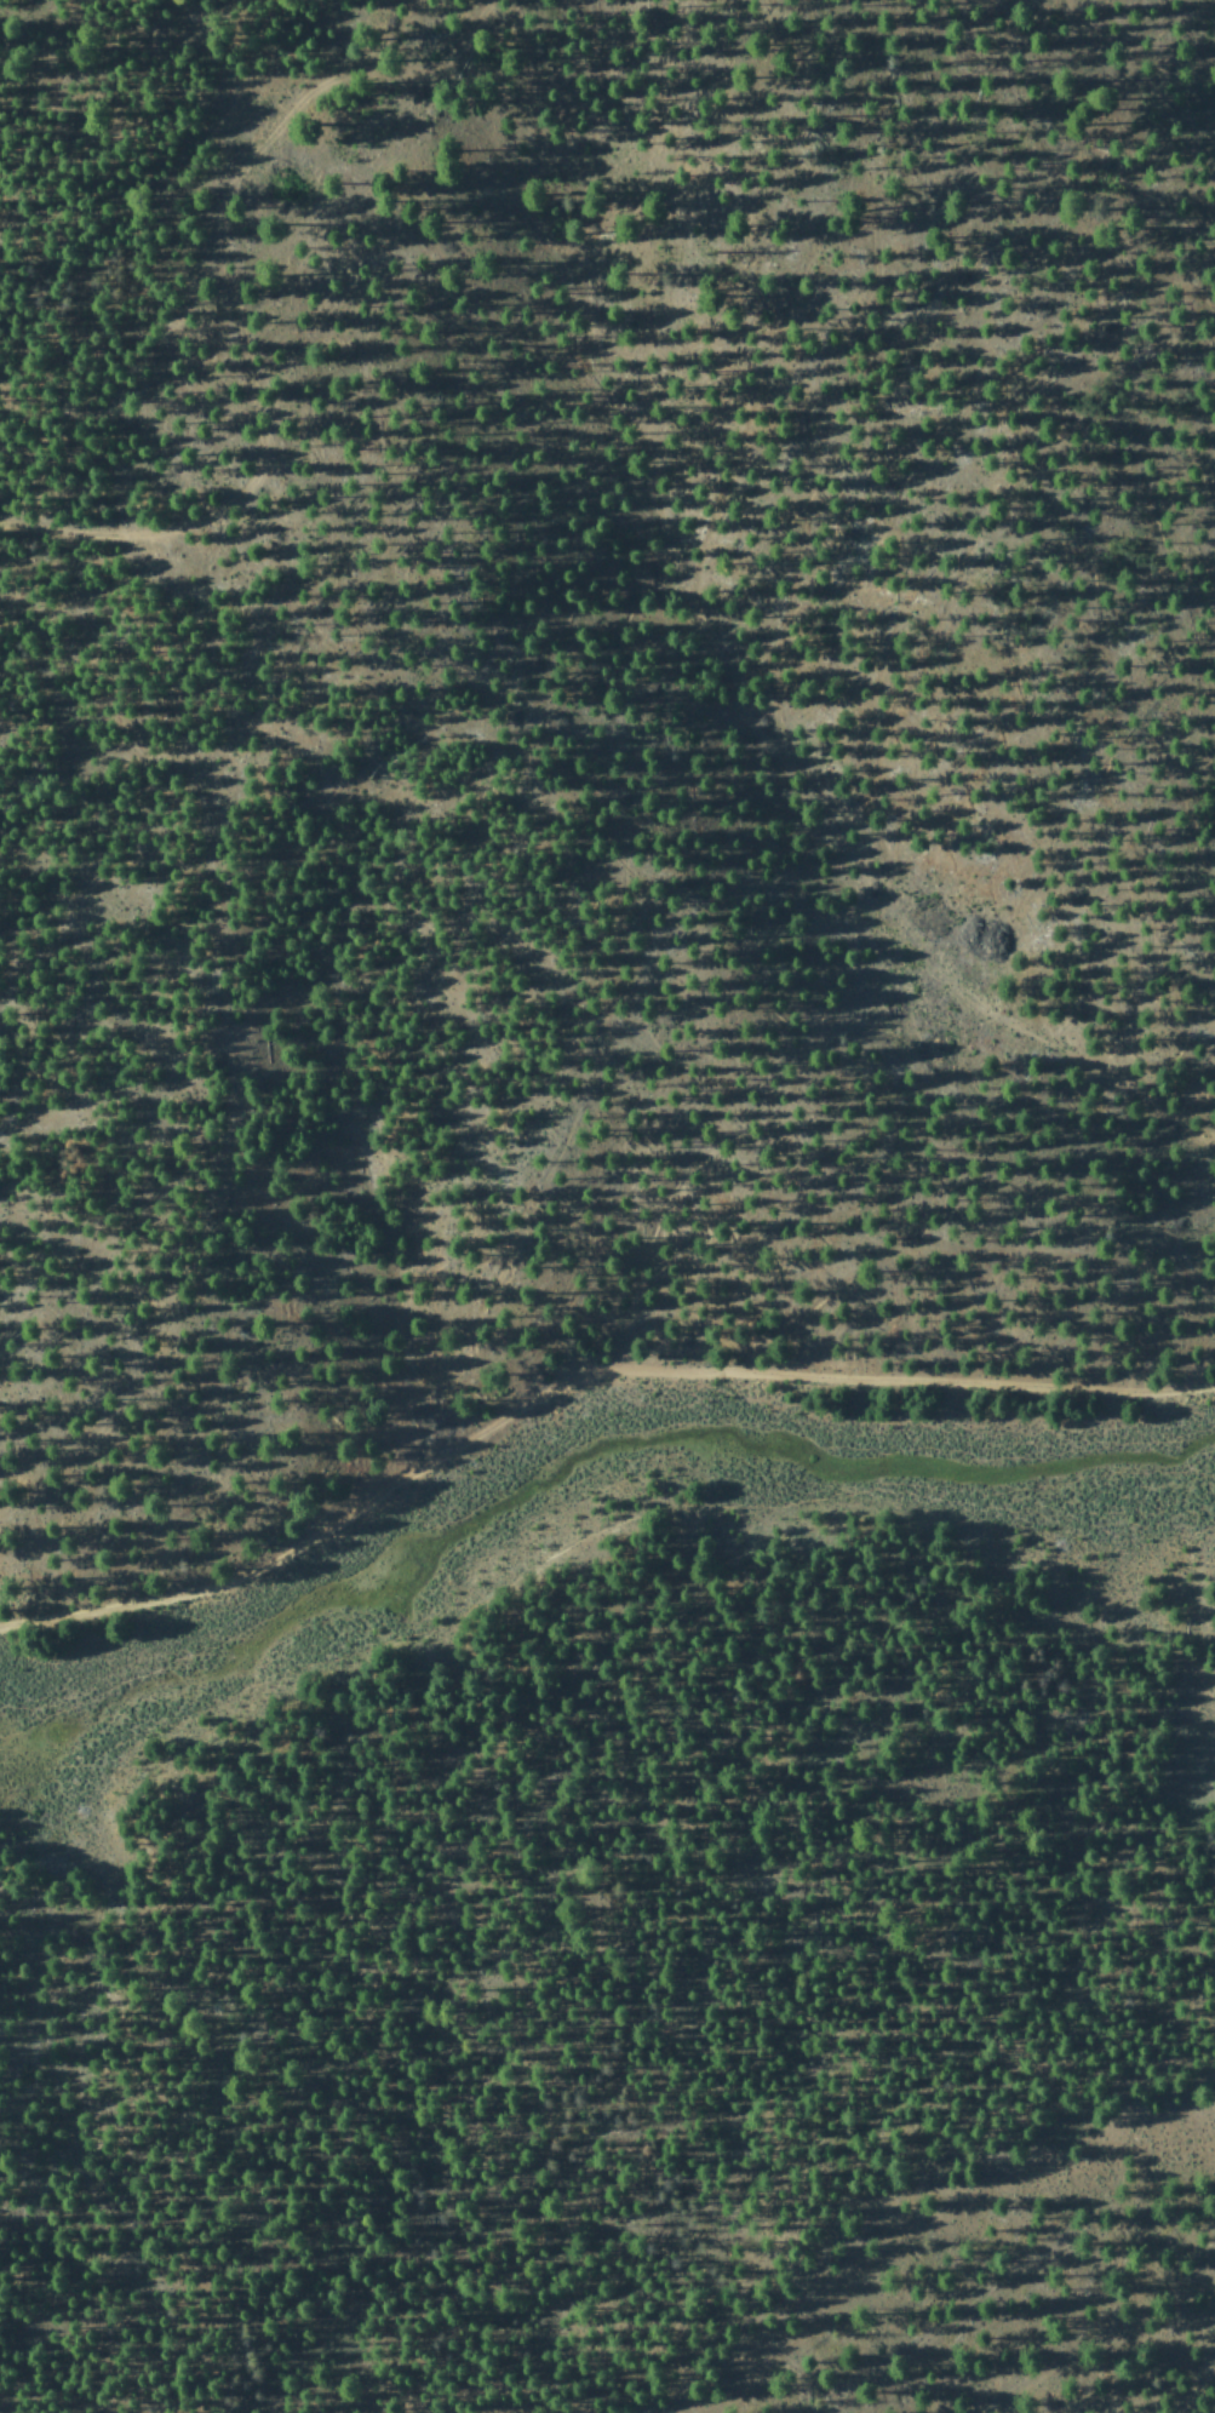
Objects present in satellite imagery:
road: (606, 1614)

